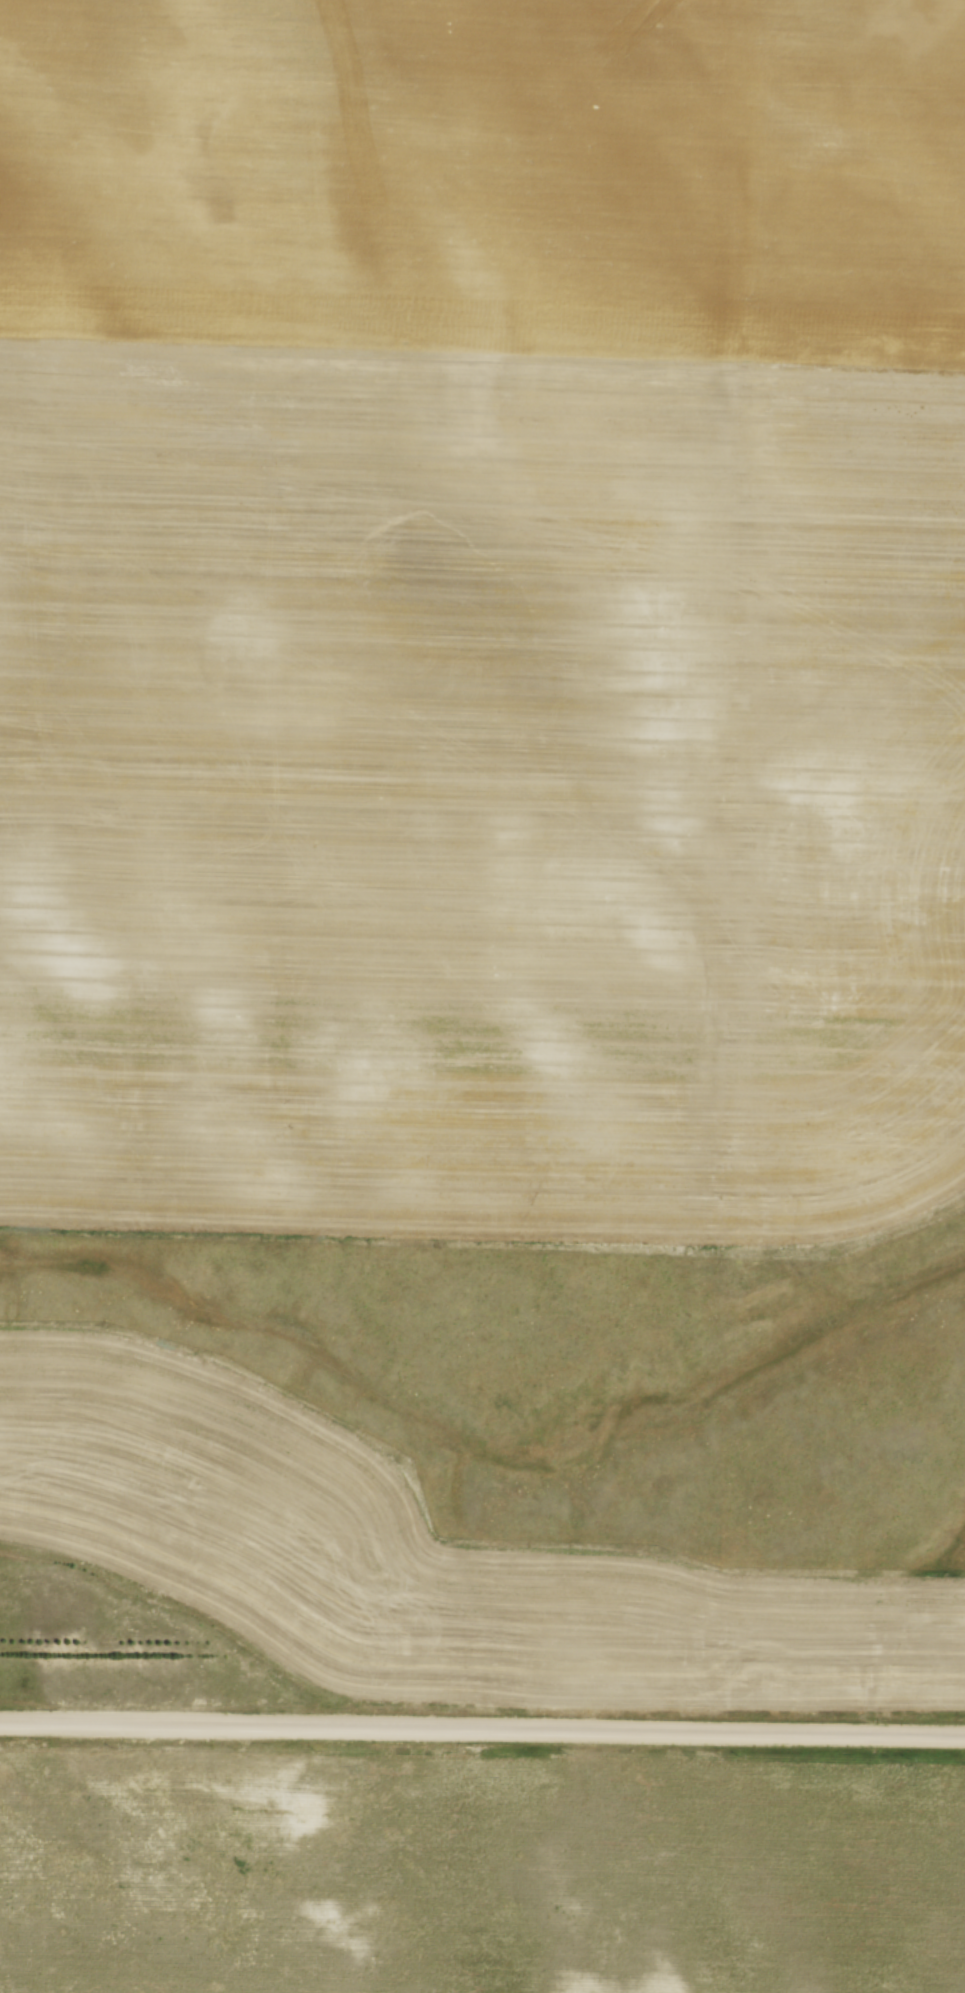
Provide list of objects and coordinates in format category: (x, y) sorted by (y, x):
crop: (482, 612)
crop: (418, 1558)
road: (482, 1726)

